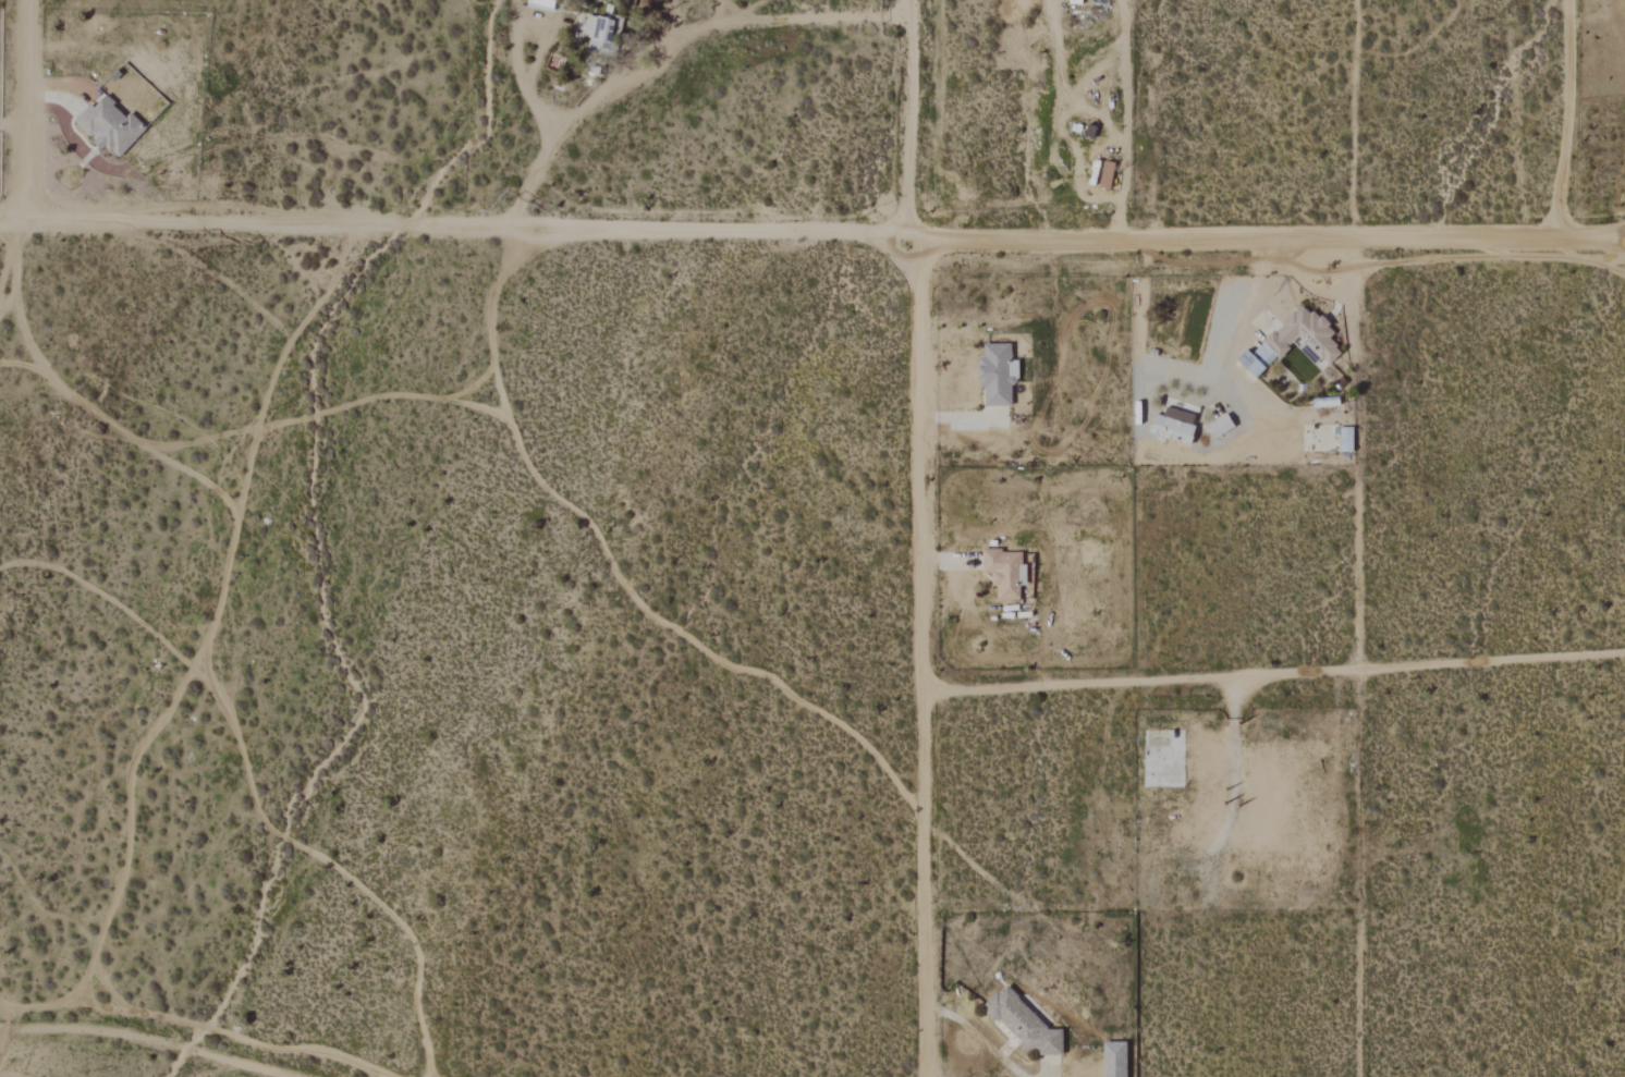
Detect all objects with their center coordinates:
building: (547, 3)
road: (726, 10)
building: (601, 33)
road: (669, 51)
road: (521, 70)
road: (28, 109)
road: (1124, 115)
road: (1569, 117)
road: (14, 125)
building: (112, 126)
building: (1110, 175)
road: (811, 227)
road: (1243, 301)
building: (1297, 342)
building: (1000, 374)
building: (1177, 424)
building: (1224, 426)
building: (1348, 440)
road: (916, 538)
building: (1009, 574)
road: (1273, 674)
building: (1027, 1025)
road: (976, 1037)
building: (1117, 1060)

